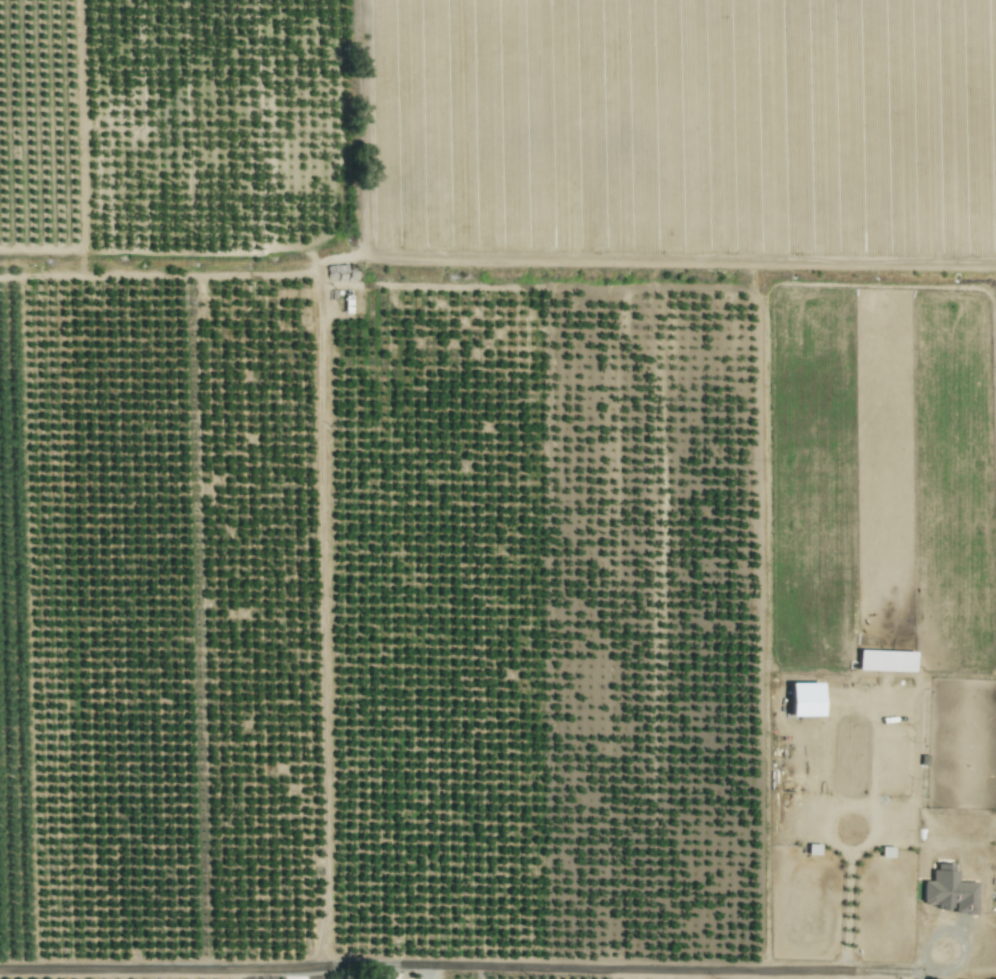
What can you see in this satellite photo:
road: (364, 128)
road: (497, 262)
building: (885, 660)
building: (803, 699)
road: (829, 821)
road: (871, 837)
building: (948, 891)
road: (460, 970)
road: (430, 974)

